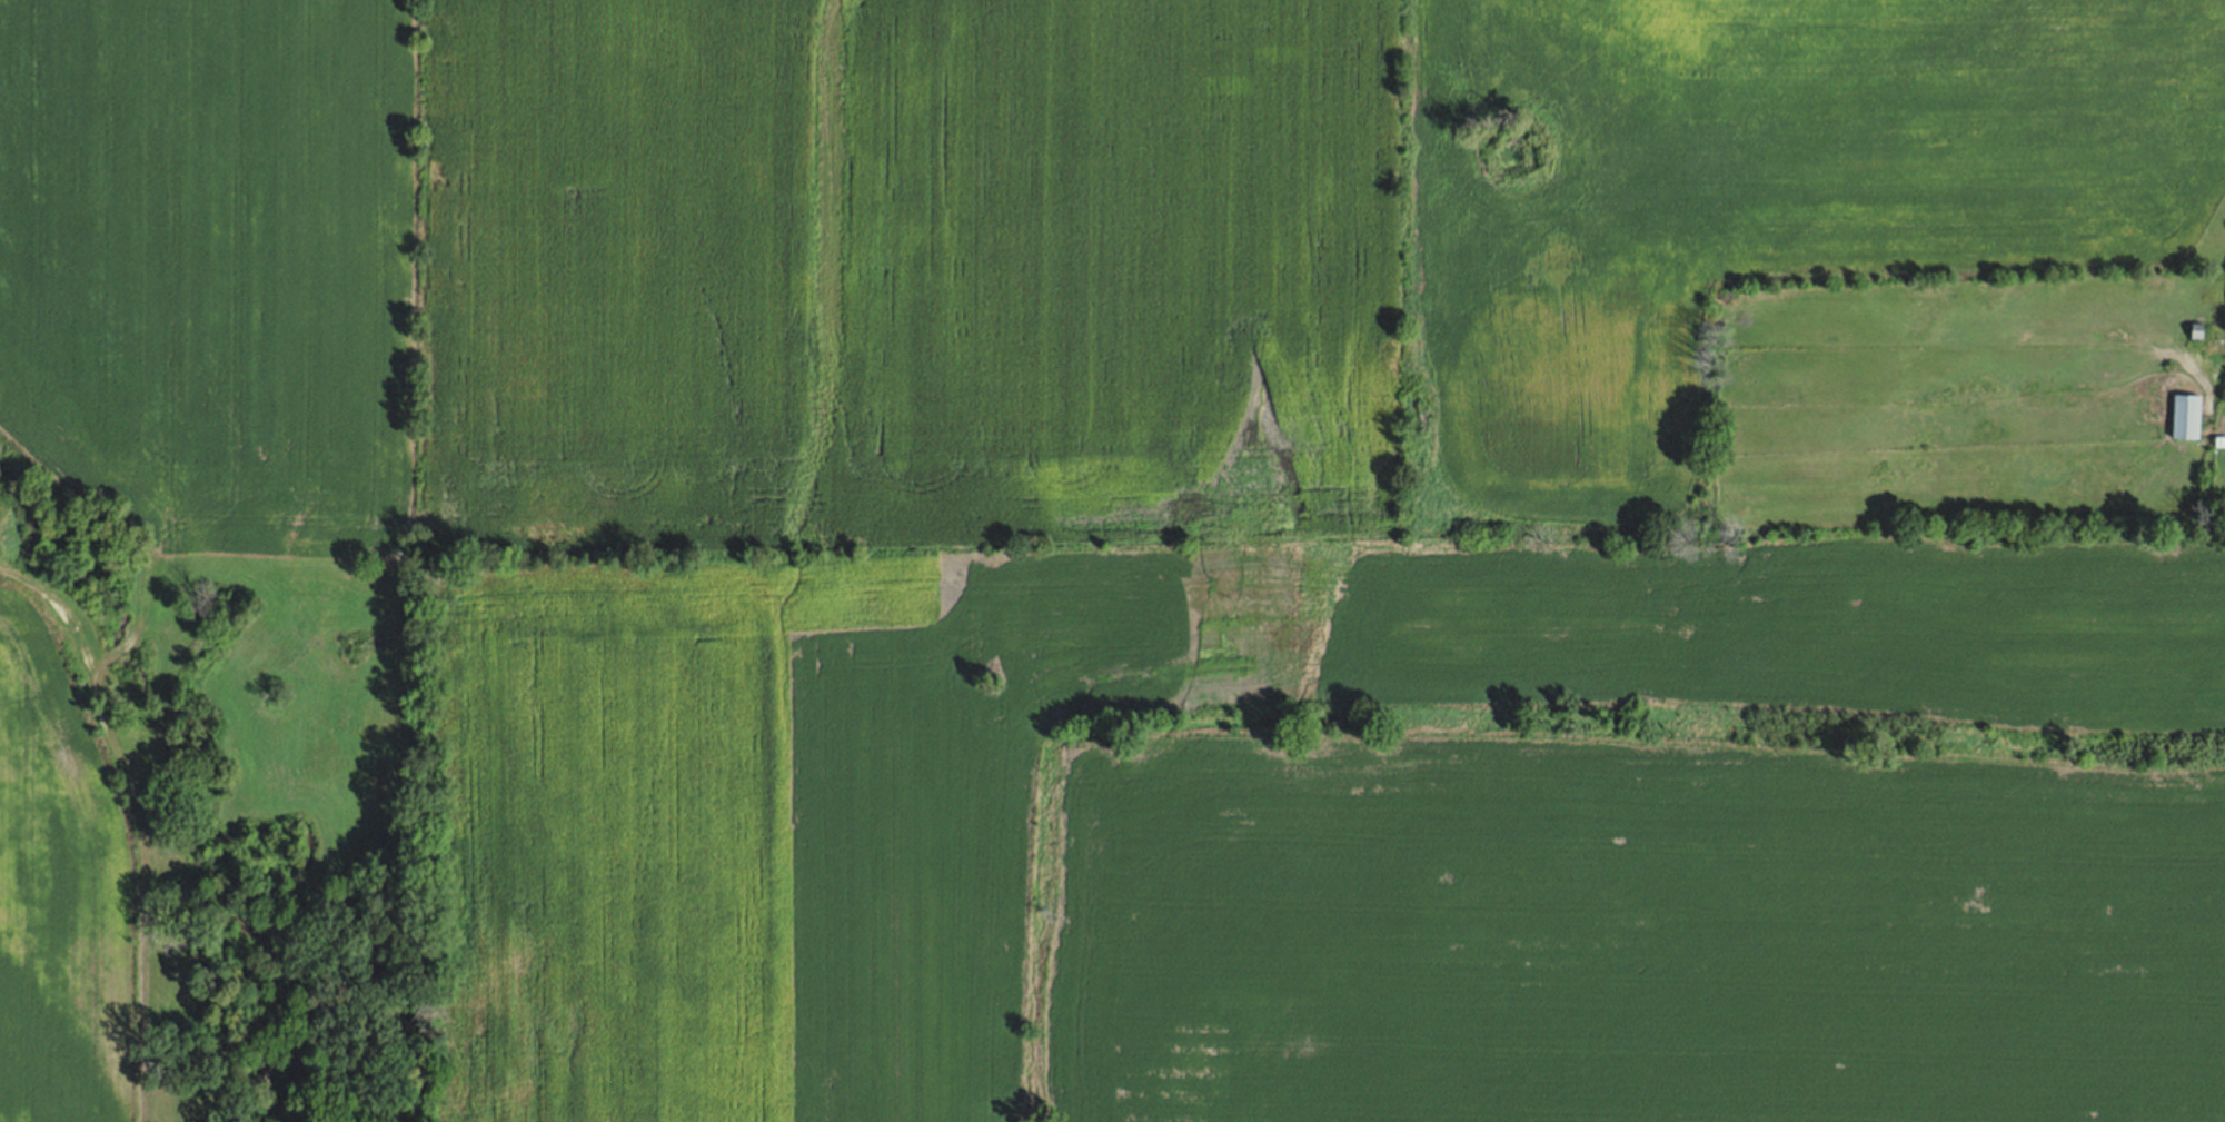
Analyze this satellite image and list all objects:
building: (2197, 328)
building: (2187, 415)

